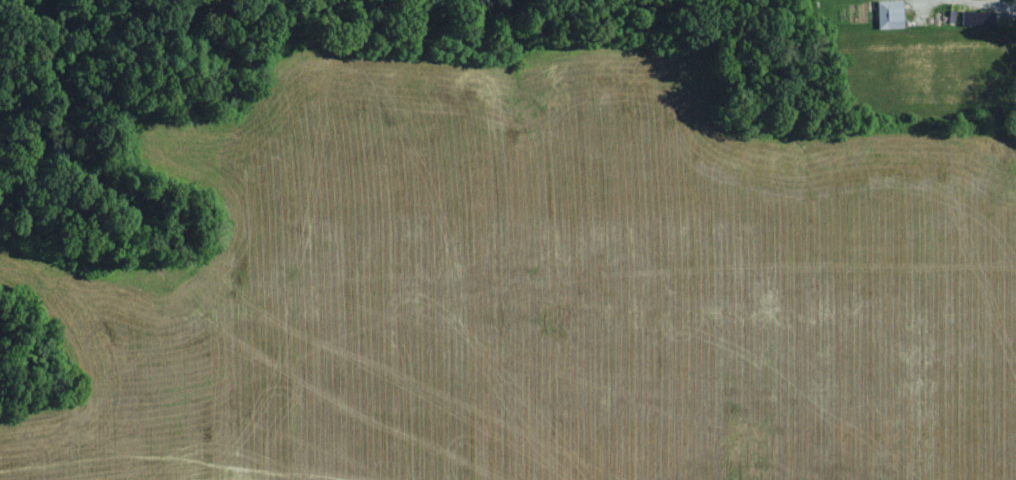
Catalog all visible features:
building: (887, 15)
building: (973, 21)

